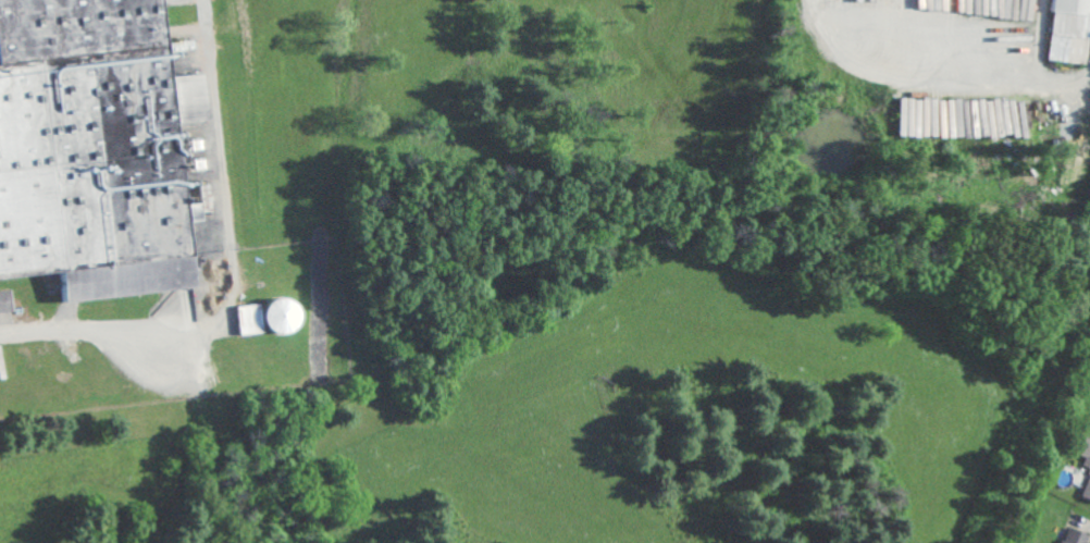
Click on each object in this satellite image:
building: (1073, 30)
building: (78, 137)
building: (5, 300)
building: (286, 314)
building: (253, 318)
railway: (193, 343)
building: (1087, 448)
railway: (207, 470)
building: (1088, 492)
building: (1078, 535)

